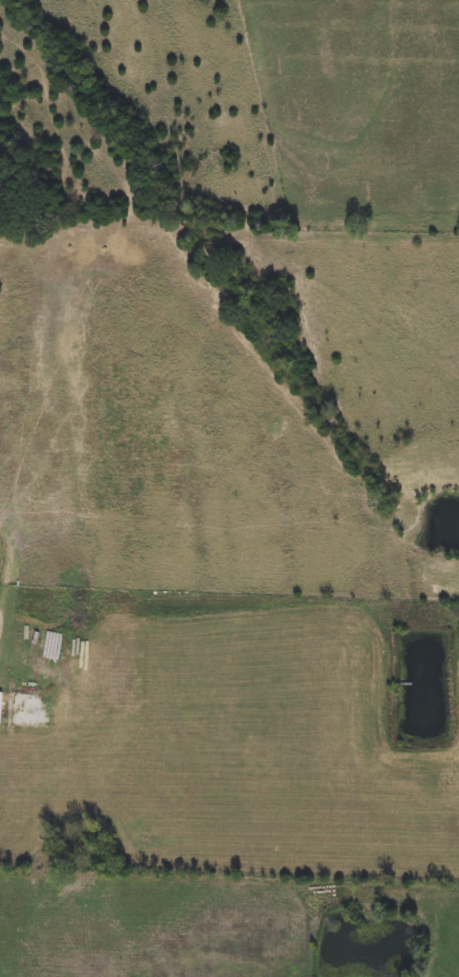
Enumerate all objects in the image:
road: (1, 626)
building: (1, 707)

